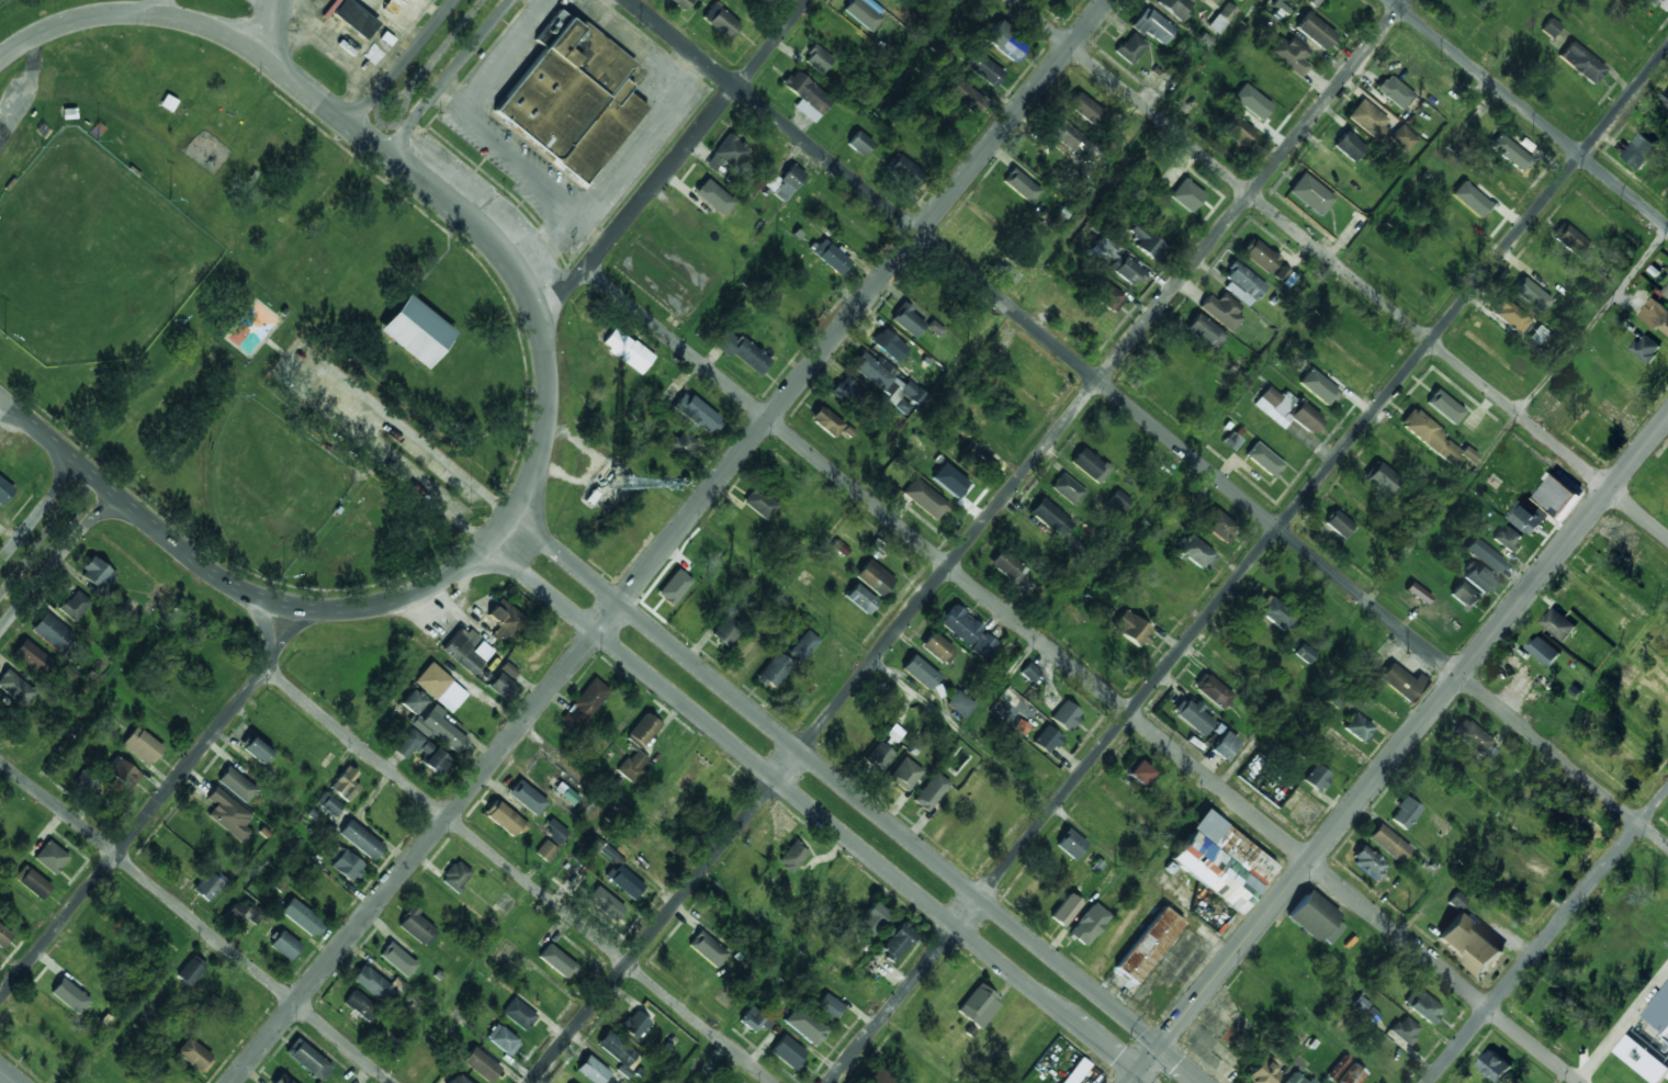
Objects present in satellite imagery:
building: (1214, 1)
building: (1312, 2)
building: (1653, 2)
building: (680, 3)
road: (153, 7)
building: (393, 7)
building: (1175, 7)
road: (268, 8)
building: (860, 13)
building: (352, 16)
building: (1220, 18)
building: (721, 21)
building: (1152, 25)
building: (1549, 27)
road: (275, 31)
building: (1315, 31)
building: (1003, 41)
road: (444, 45)
building: (1129, 47)
building: (1289, 55)
building: (818, 58)
road: (403, 63)
building: (1580, 63)
building: (984, 69)
road: (449, 77)
building: (1394, 91)
building: (807, 95)
building: (966, 97)
building: (1665, 98)
building: (574, 99)
building: (1251, 101)
building: (1084, 108)
road: (1530, 112)
building: (1367, 119)
road: (379, 122)
building: (1236, 128)
building: (1068, 137)
building: (1402, 138)
building: (858, 143)
building: (1349, 146)
building: (1639, 150)
building: (728, 153)
building: (1509, 153)
road: (673, 161)
building: (903, 170)
road: (818, 171)
building: (785, 182)
building: (1021, 184)
building: (1186, 194)
building: (1310, 194)
building: (713, 196)
building: (1469, 199)
building: (1571, 241)
building: (1147, 242)
building: (1261, 256)
building: (831, 257)
building: (1118, 261)
road: (1340, 268)
building: (1281, 273)
building: (1242, 283)
road: (1021, 294)
building: (1106, 295)
building: (1531, 295)
building: (1221, 311)
building: (1656, 314)
building: (1509, 315)
park: (248, 316)
building: (908, 320)
water park: (252, 328)
building: (935, 328)
building: (1205, 331)
building: (417, 332)
building: (1536, 335)
building: (889, 345)
building: (1646, 348)
building: (627, 350)
building: (742, 351)
building: (889, 382)
building: (1317, 386)
road: (320, 387)
road: (544, 393)
building: (850, 394)
building: (1444, 406)
building: (1286, 409)
building: (695, 411)
building: (825, 421)
road: (1149, 422)
building: (1428, 435)
building: (1230, 440)
road: (424, 442)
building: (683, 443)
building: (1467, 454)
building: (1263, 459)
building: (1089, 464)
building: (1380, 478)
building: (954, 482)
building: (1067, 488)
building: (4, 490)
building: (1555, 495)
road: (429, 498)
building: (924, 498)
building: (1118, 499)
road: (1153, 501)
building: (759, 503)
road: (40, 511)
building: (1050, 517)
building: (1526, 517)
building: (1339, 524)
building: (1219, 526)
building: (1508, 538)
road: (668, 541)
road: (968, 541)
building: (1196, 553)
building: (1485, 554)
road: (1406, 556)
road: (56, 562)
road: (1249, 564)
building: (1006, 565)
building: (95, 573)
building: (874, 577)
building: (1478, 578)
building: (673, 587)
building: (1417, 593)
building: (1465, 596)
building: (860, 598)
building: (75, 606)
building: (1275, 612)
building: (505, 621)
building: (1557, 623)
building: (959, 624)
building: (1130, 628)
building: (726, 631)
building: (52, 632)
building: (803, 645)
building: (982, 646)
building: (937, 647)
building: (1544, 650)
building: (466, 651)
building: (1304, 653)
building: (30, 655)
road: (262, 667)
building: (508, 669)
building: (773, 670)
building: (920, 672)
building: (1029, 672)
road: (1083, 676)
building: (1400, 681)
building: (438, 685)
building: (501, 686)
building: (15, 687)
building: (1211, 690)
building: (413, 701)
building: (960, 703)
building: (585, 704)
building: (1064, 715)
building: (1193, 715)
building: (1356, 727)
building: (642, 731)
building: (891, 735)
building: (1046, 740)
building: (1475, 740)
building: (1222, 745)
building: (142, 746)
building: (255, 748)
road: (1398, 751)
building: (421, 752)
building: (878, 756)
building: (632, 765)
road: (1533, 770)
building: (122, 772)
building: (1138, 772)
building: (904, 774)
building: (1317, 777)
building: (87, 779)
building: (235, 783)
building: (345, 783)
building: (931, 791)
building: (565, 793)
building: (527, 797)
road: (12, 798)
road: (858, 798)
road: (1042, 798)
building: (329, 803)
road: (816, 813)
building: (1404, 813)
building: (227, 814)
building: (504, 817)
building: (553, 830)
road: (132, 834)
building: (360, 839)
building: (1069, 843)
building: (1388, 843)
building: (545, 850)
building: (50, 857)
building: (792, 857)
building: (1220, 861)
building: (1367, 862)
building: (347, 865)
building: (455, 875)
road: (517, 875)
building: (620, 875)
building: (32, 881)
building: (207, 885)
building: (605, 903)
building: (241, 910)
building: (1064, 910)
road: (217, 912)
building: (256, 914)
building: (301, 916)
building: (871, 917)
building: (1315, 918)
road: (198, 922)
building: (1087, 924)
building: (417, 927)
road: (1548, 935)
building: (3, 936)
building: (897, 941)
building: (1469, 944)
building: (284, 945)
building: (1148, 945)
building: (707, 948)
building: (397, 958)
building: (557, 960)
building: (191, 970)
road: (832, 974)
building: (376, 984)
road: (457, 985)
building: (69, 995)
building: (361, 1005)
building: (827, 1006)
building: (978, 1006)
building: (1422, 1006)
building: (1364, 1008)
building: (1660, 1012)
building: (518, 1014)
building: (753, 1019)
building: (633, 1024)
building: (803, 1025)
road: (1622, 1027)
building: (1405, 1029)
building: (503, 1039)
building: (615, 1049)
building: (787, 1051)
building: (194, 1054)
building: (1643, 1058)
building: (307, 1059)
road: (697, 1060)
building: (481, 1064)
building: (1495, 1065)
building: (1335, 1068)
building: (591, 1071)
building: (1074, 1071)
building: (1262, 1072)
building: (1351, 1074)
road: (8, 1076)
building: (878, 1078)
building: (1296, 1078)
building: (281, 1080)
building: (457, 1080)

